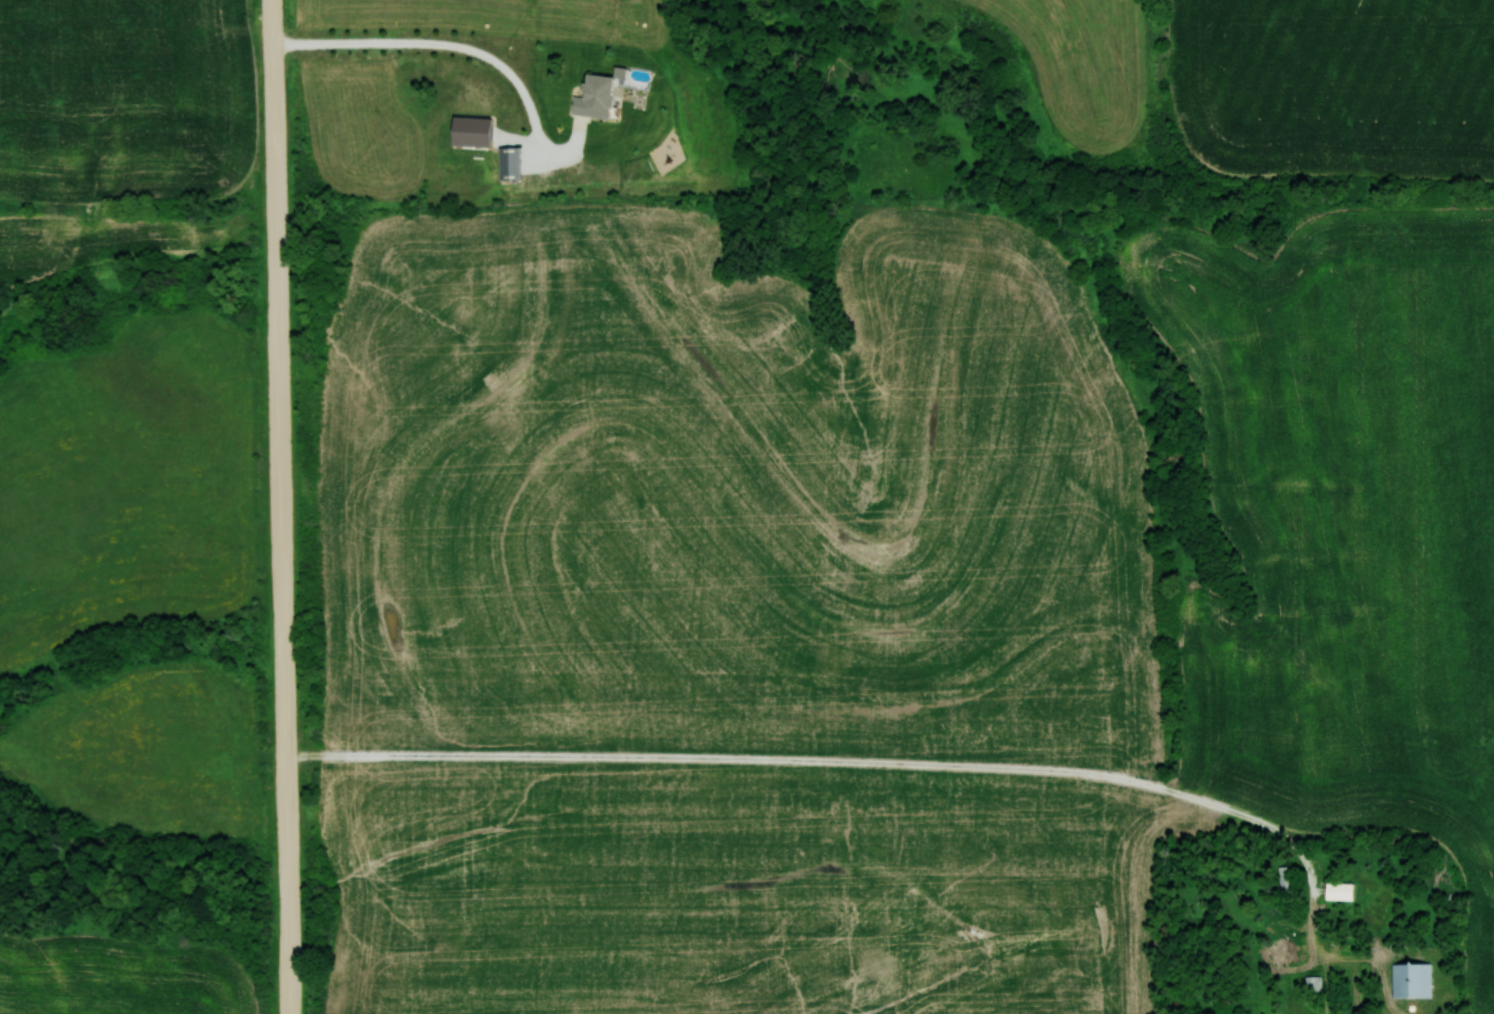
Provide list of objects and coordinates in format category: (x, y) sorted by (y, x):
building: (600, 98)
building: (512, 163)
road: (303, 507)
building: (1343, 891)
building: (1414, 980)
road: (652, 982)

